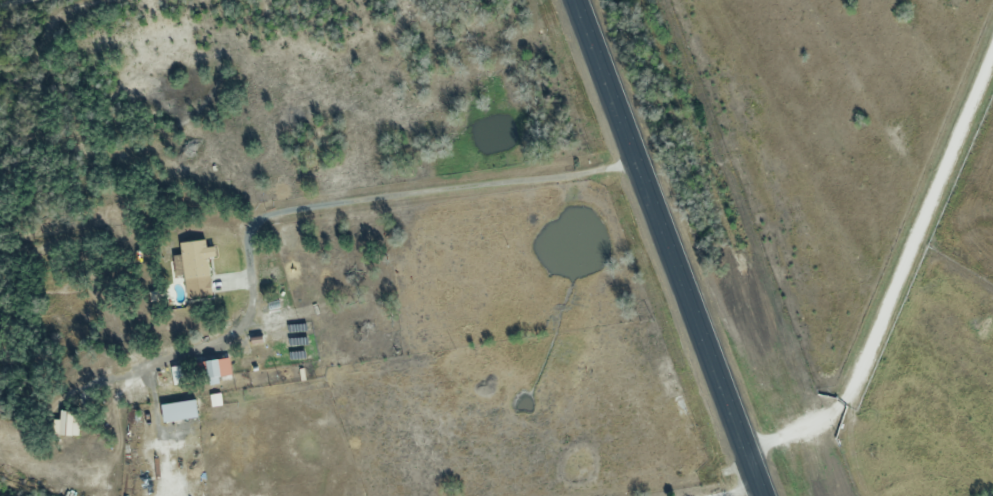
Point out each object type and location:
road: (0, 0)
road: (668, 247)
road: (897, 273)
building: (217, 368)
building: (680, 409)
building: (67, 423)

